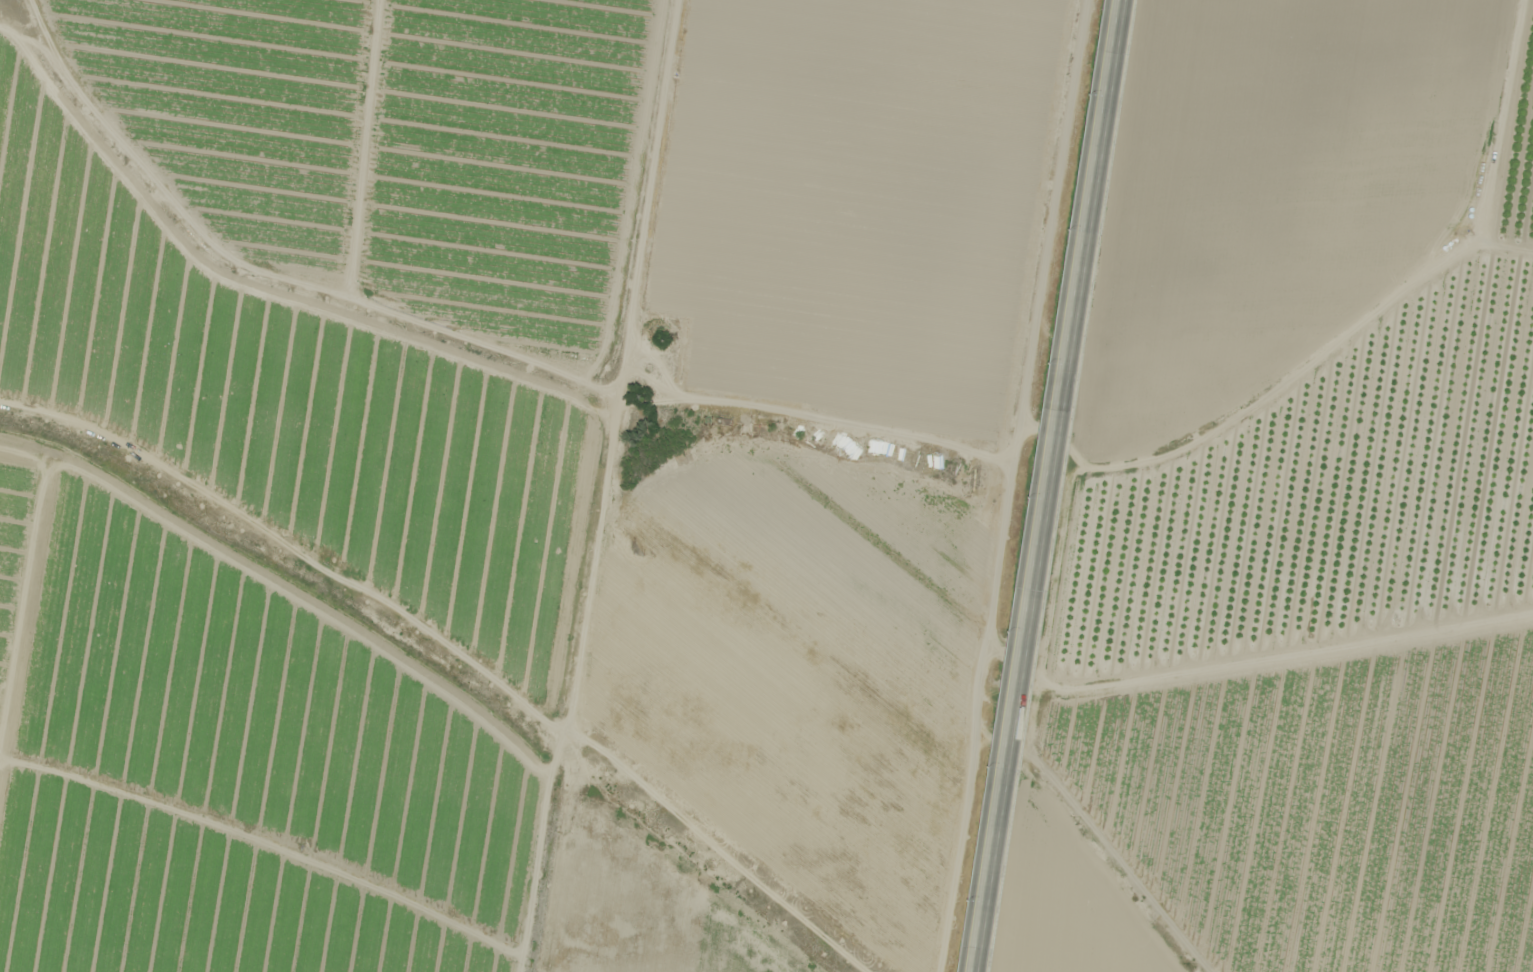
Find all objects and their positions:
road: (1043, 486)

